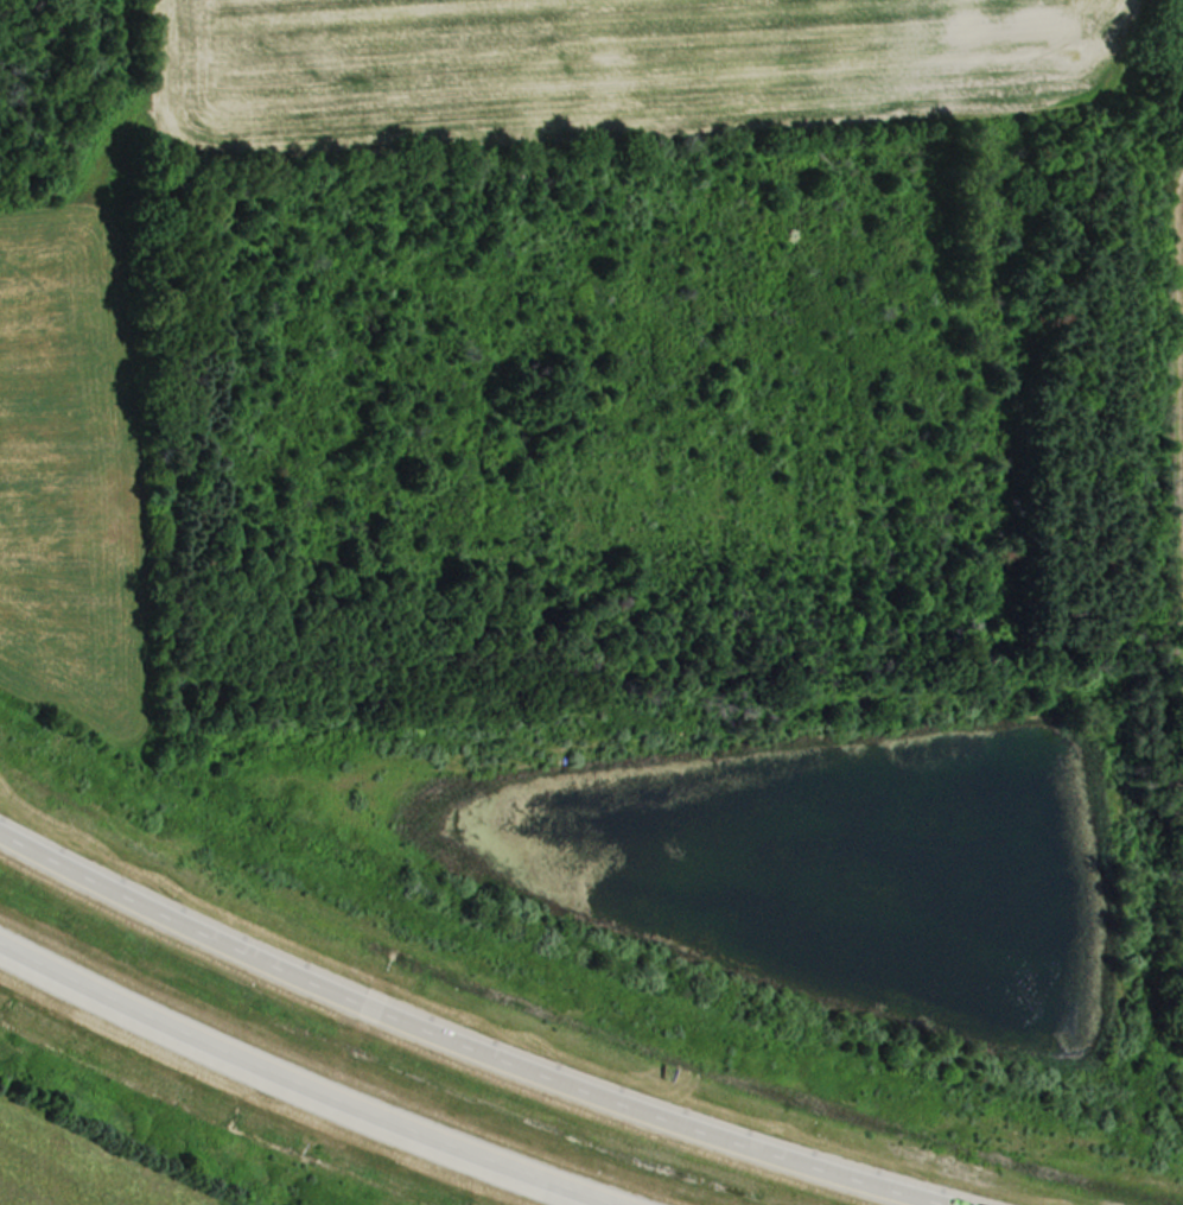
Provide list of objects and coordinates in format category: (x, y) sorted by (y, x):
road: (462, 1042)
road: (304, 1084)

